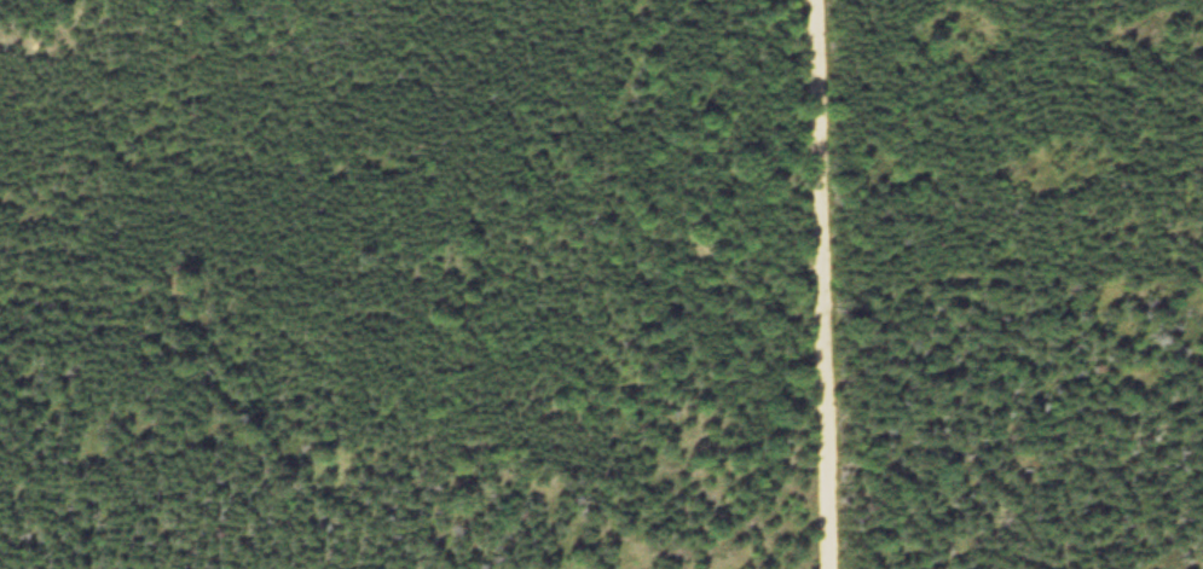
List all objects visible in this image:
road: (829, 284)

